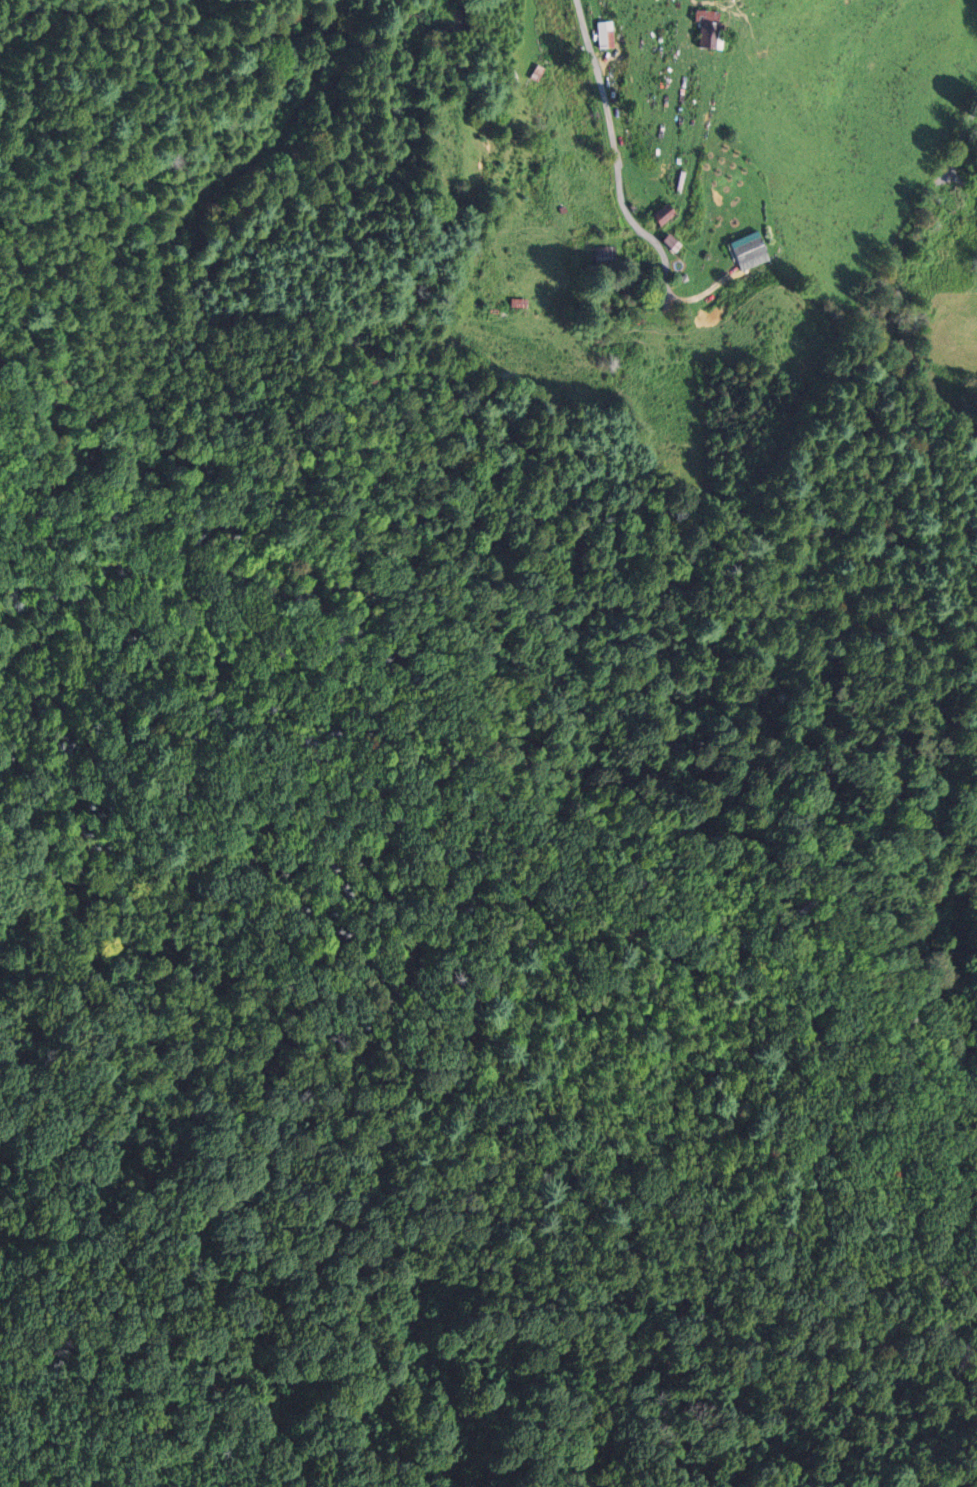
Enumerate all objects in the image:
building: (702, 31)
building: (603, 36)
road: (961, 139)
road: (616, 156)
building: (656, 218)
building: (745, 252)

